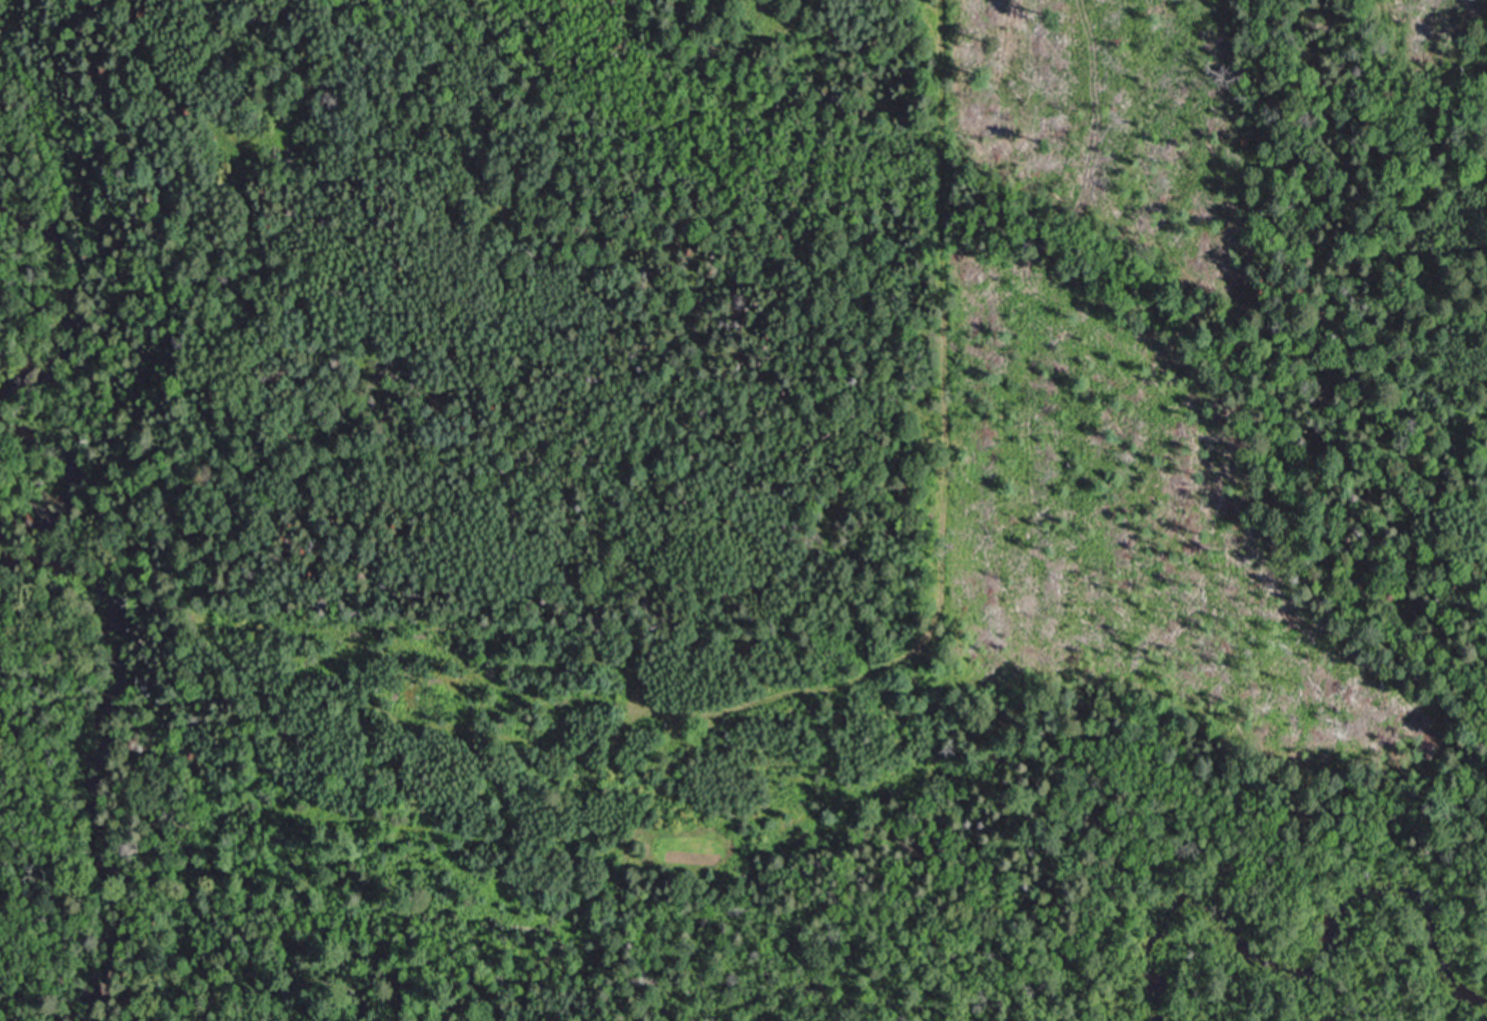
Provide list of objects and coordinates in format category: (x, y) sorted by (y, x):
river: (1292, 971)

